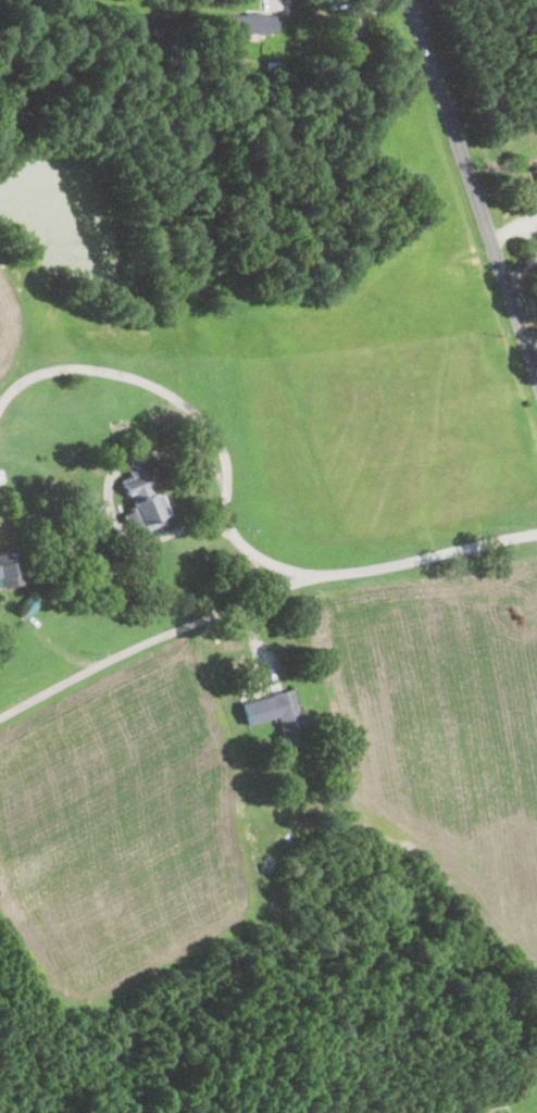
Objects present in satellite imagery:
building: (252, 23)
building: (149, 27)
building: (348, 28)
building: (536, 171)
road: (473, 190)
road: (195, 414)
building: (0, 476)
building: (141, 497)
building: (90, 515)
building: (11, 568)
road: (259, 595)
building: (277, 714)

